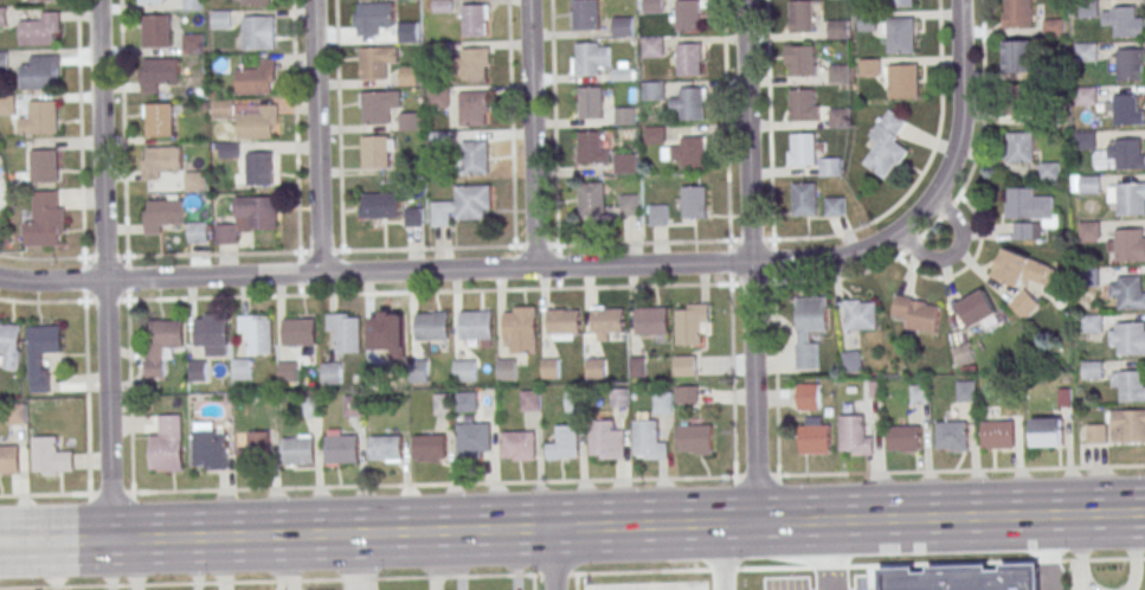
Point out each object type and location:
building: (43, 0)
building: (255, 1)
building: (150, 2)
building: (900, 2)
building: (192, 5)
building: (442, 6)
building: (652, 6)
building: (1017, 13)
building: (586, 14)
building: (688, 15)
building: (802, 15)
building: (2, 17)
building: (373, 17)
building: (221, 20)
building: (474, 20)
building: (1125, 20)
building: (867, 23)
building: (623, 26)
building: (40, 28)
building: (409, 31)
building: (157, 32)
building: (258, 32)
building: (900, 32)
building: (194, 44)
building: (652, 46)
road: (984, 49)
building: (1087, 51)
building: (1019, 56)
building: (587, 58)
building: (689, 59)
building: (4, 60)
building: (377, 60)
building: (803, 60)
building: (474, 64)
building: (1131, 65)
building: (870, 66)
building: (623, 70)
building: (41, 72)
building: (157, 73)
building: (840, 73)
building: (409, 76)
building: (256, 77)
building: (903, 81)
building: (652, 90)
building: (438, 96)
building: (1086, 96)
building: (1021, 100)
building: (590, 103)
building: (691, 103)
building: (7, 104)
building: (379, 105)
building: (803, 105)
building: (472, 108)
building: (1124, 108)
building: (225, 109)
building: (625, 115)
building: (44, 117)
building: (841, 117)
building: (159, 120)
road: (771, 120)
building: (409, 121)
building: (258, 122)
road: (553, 122)
road: (122, 128)
road: (530, 134)
building: (654, 134)
road: (315, 136)
building: (439, 141)
road: (727, 142)
building: (887, 146)
building: (592, 147)
building: (1021, 147)
road: (81, 149)
building: (804, 149)
building: (230, 150)
building: (374, 150)
building: (1114, 152)
building: (693, 153)
building: (475, 156)
building: (160, 161)
building: (624, 162)
building: (44, 166)
building: (830, 167)
building: (259, 168)
road: (924, 171)
building: (1050, 171)
building: (194, 182)
building: (1091, 184)
road: (931, 195)
building: (1128, 197)
building: (591, 199)
building: (804, 199)
building: (694, 201)
building: (628, 204)
building: (462, 205)
building: (380, 206)
building: (835, 206)
road: (512, 209)
building: (1030, 212)
building: (161, 214)
building: (658, 214)
building: (413, 216)
building: (249, 218)
building: (46, 219)
building: (1089, 231)
building: (198, 232)
building: (1127, 244)
road: (319, 250)
road: (956, 250)
road: (905, 251)
road: (750, 261)
building: (1024, 269)
road: (103, 270)
road: (374, 271)
road: (450, 290)
building: (1127, 291)
building: (1025, 303)
building: (977, 308)
building: (918, 313)
building: (861, 314)
building: (651, 320)
building: (564, 321)
building: (605, 321)
building: (475, 322)
building: (520, 322)
building: (431, 323)
building: (691, 323)
building: (1093, 323)
building: (809, 328)
building: (385, 329)
building: (211, 331)
building: (300, 331)
building: (257, 332)
building: (346, 332)
building: (1127, 339)
building: (11, 344)
building: (161, 345)
building: (41, 353)
building: (963, 353)
building: (853, 361)
building: (638, 365)
building: (686, 365)
building: (552, 366)
building: (596, 366)
building: (243, 368)
building: (507, 368)
building: (197, 370)
building: (464, 370)
building: (288, 371)
building: (418, 371)
building: (333, 373)
building: (375, 373)
road: (85, 374)
building: (1130, 384)
building: (969, 391)
building: (688, 393)
building: (920, 393)
building: (619, 396)
building: (809, 396)
building: (530, 399)
building: (575, 399)
building: (467, 400)
building: (664, 400)
building: (444, 403)
building: (313, 405)
building: (354, 406)
building: (15, 413)
building: (1128, 425)
building: (1048, 431)
building: (999, 434)
building: (1098, 434)
building: (954, 435)
building: (474, 436)
building: (855, 436)
building: (696, 437)
building: (905, 438)
building: (606, 440)
building: (649, 440)
building: (816, 440)
building: (564, 443)
building: (167, 444)
building: (517, 444)
building: (208, 447)
building: (253, 447)
building: (430, 448)
building: (342, 449)
building: (387, 449)
building: (297, 450)
building: (50, 456)
building: (8, 458)
road: (939, 470)
road: (432, 483)
road: (65, 493)
road: (572, 527)
road: (1050, 551)
road: (830, 554)
road: (720, 557)
road: (552, 559)
road: (572, 573)
road: (533, 582)
road: (575, 582)

